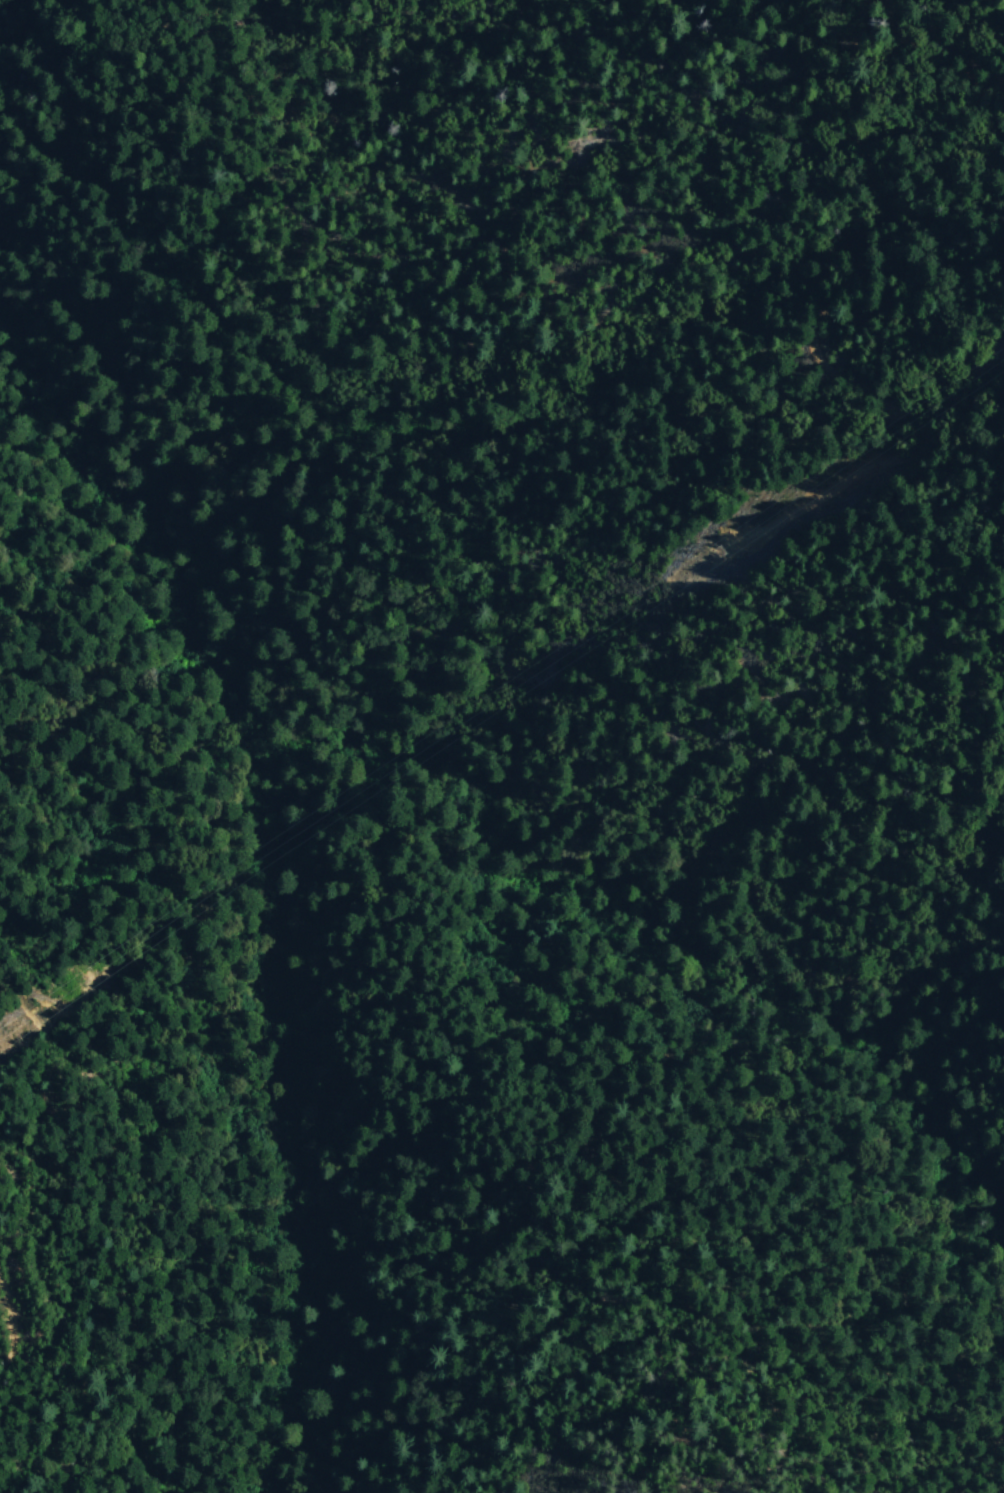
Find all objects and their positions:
road: (949, 57)
power tower: (731, 547)

